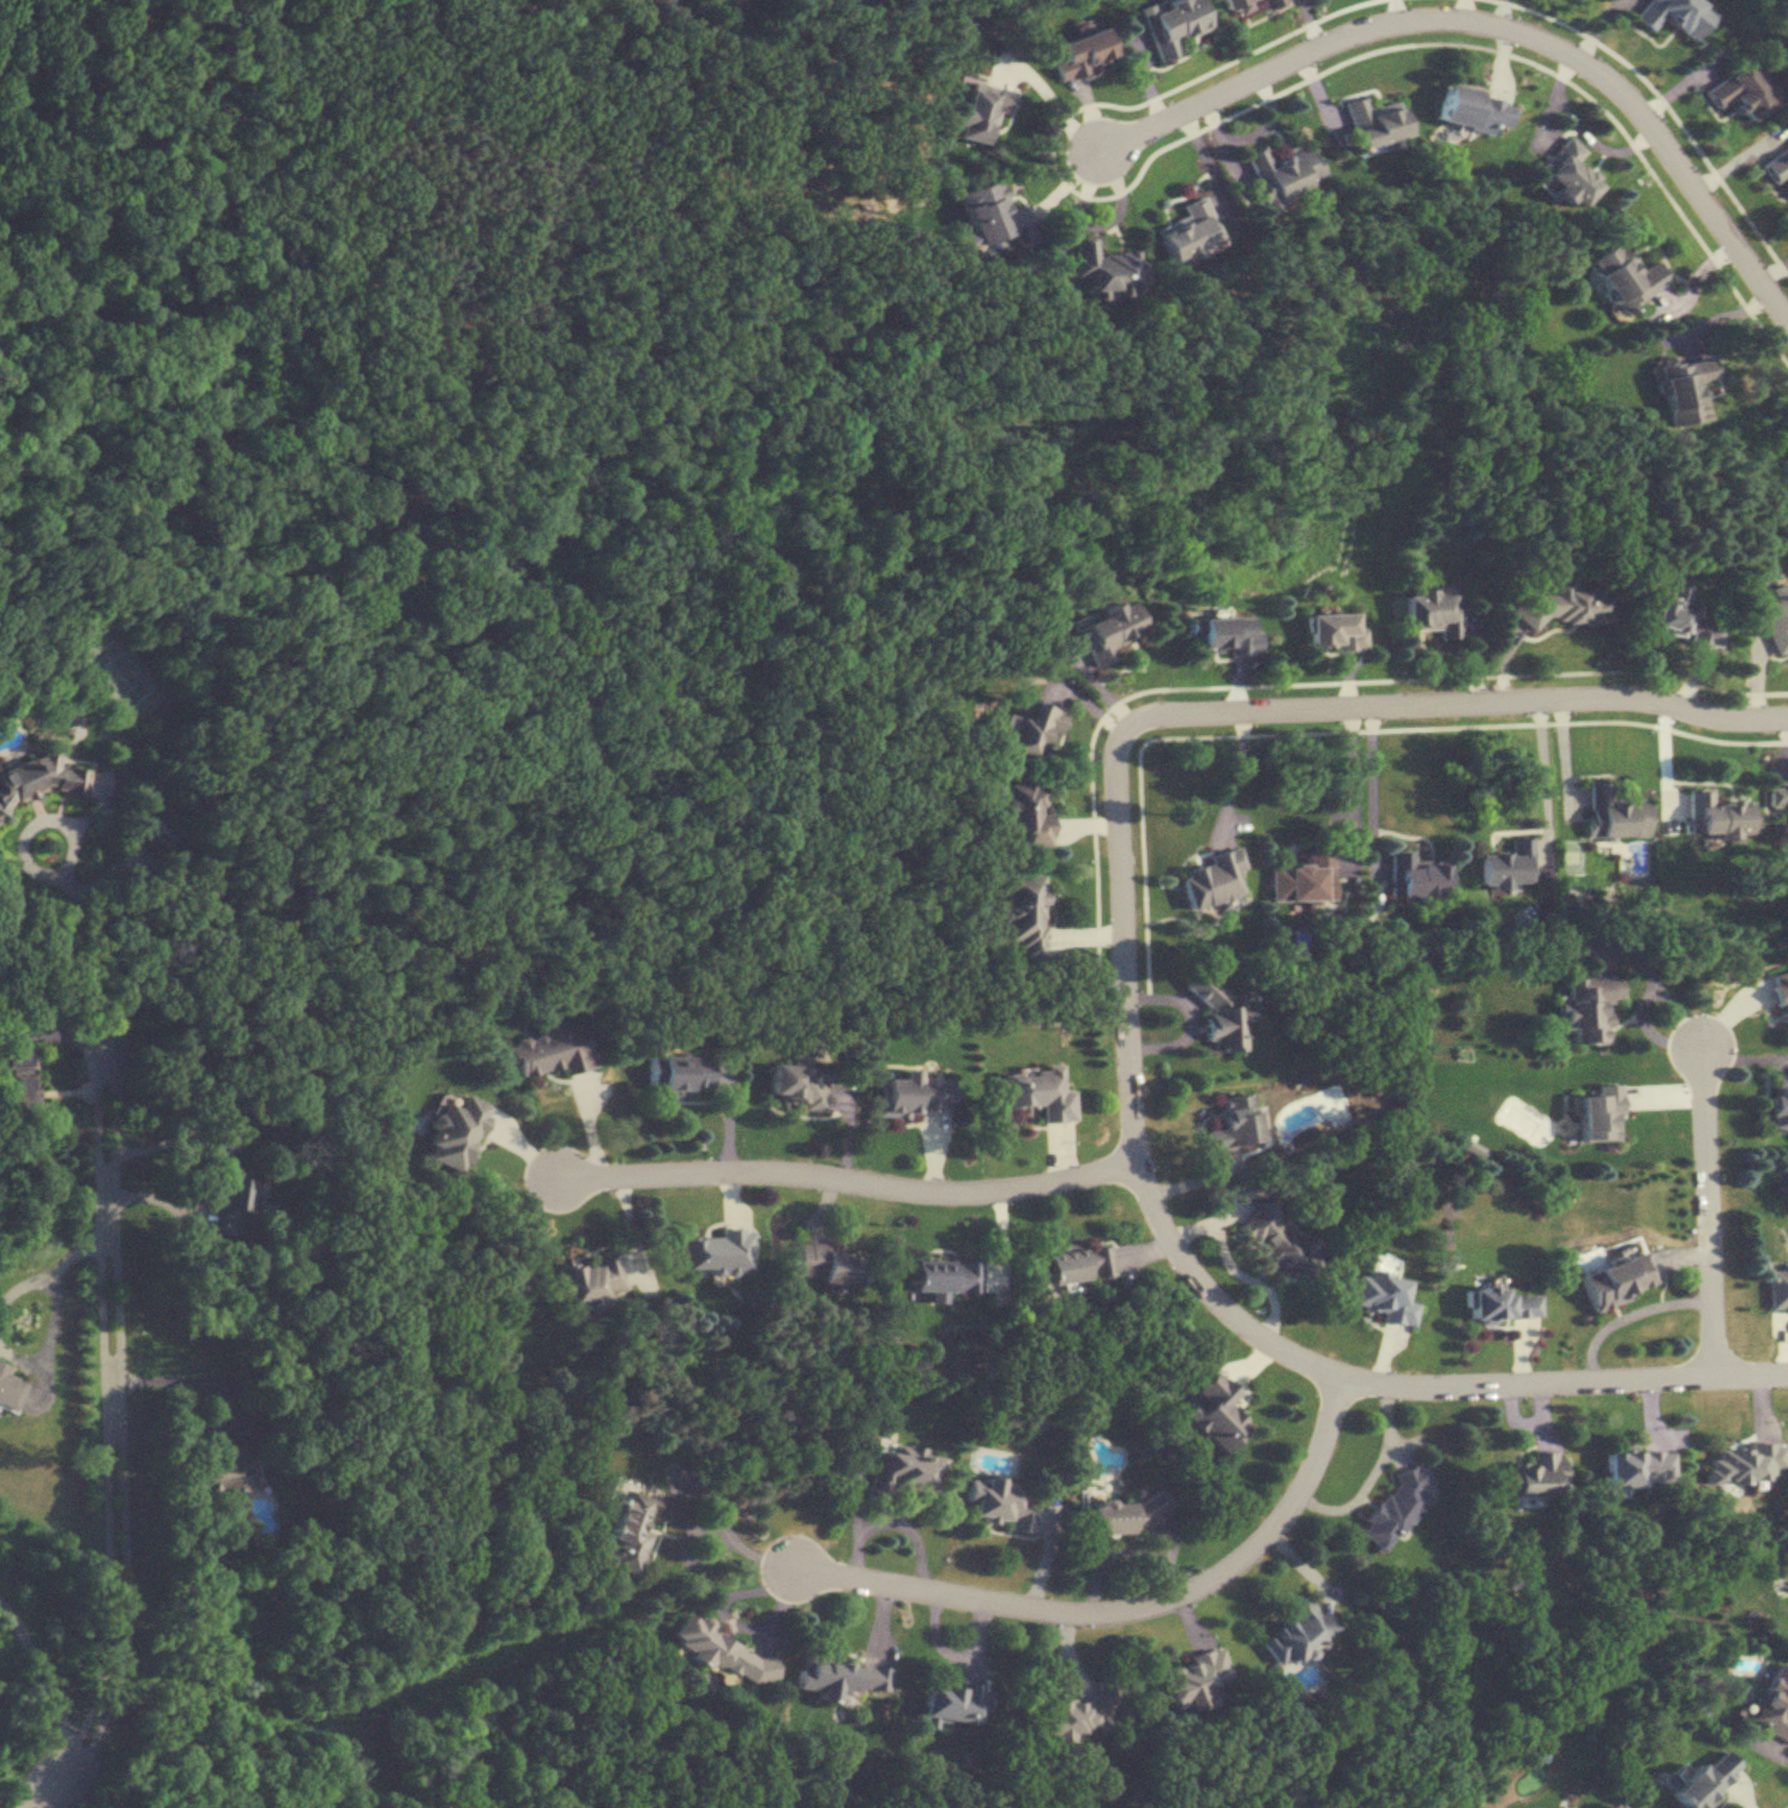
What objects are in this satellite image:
building: (1271, 4)
building: (1233, 6)
building: (1673, 16)
road: (1494, 22)
building: (1168, 24)
building: (1077, 54)
building: (1734, 94)
road: (1052, 101)
building: (1471, 108)
building: (977, 110)
building: (1374, 121)
building: (1775, 165)
building: (1282, 171)
building: (1567, 171)
building: (991, 212)
building: (1191, 230)
building: (1107, 269)
building: (1625, 276)
building: (1684, 388)
building: (1563, 605)
building: (1431, 611)
building: (1680, 617)
building: (1775, 617)
building: (1104, 631)
building: (1326, 631)
building: (1218, 634)
road: (1450, 704)
building: (1034, 727)
road: (1545, 775)
road: (1234, 777)
building: (40, 779)
road: (1349, 784)
road: (1367, 784)
building: (1780, 800)
building: (1025, 812)
building: (1617, 813)
building: (1716, 814)
building: (1506, 863)
building: (1414, 876)
building: (1302, 878)
building: (1214, 879)
building: (1023, 912)
road: (79, 944)
building: (1781, 994)
building: (1588, 1007)
building: (1218, 1012)
building: (549, 1050)
road: (101, 1057)
road: (106, 1067)
building: (679, 1073)
building: (19, 1075)
building: (799, 1084)
building: (1040, 1092)
building: (916, 1093)
building: (1778, 1103)
building: (1234, 1122)
building: (456, 1131)
road: (101, 1174)
road: (211, 1176)
road: (849, 1179)
building: (235, 1205)
road: (1708, 1206)
road: (112, 1234)
building: (1280, 1243)
road: (76, 1252)
building: (717, 1252)
building: (1076, 1264)
building: (826, 1265)
building: (943, 1277)
building: (1617, 1280)
building: (586, 1282)
road: (24, 1285)
building: (1777, 1289)
building: (1384, 1295)
building: (1500, 1303)
road: (1220, 1304)
road: (1630, 1315)
road: (49, 1339)
building: (8, 1391)
building: (1217, 1414)
road: (124, 1438)
building: (1744, 1464)
building: (227, 1469)
building: (1638, 1469)
building: (899, 1471)
building: (1529, 1477)
road: (109, 1495)
building: (999, 1505)
building: (1396, 1507)
building: (1127, 1515)
road: (895, 1521)
building: (639, 1525)
road: (726, 1535)
road: (1124, 1604)
building: (1294, 1635)
building: (722, 1651)
road: (38, 1668)
building: (842, 1679)
building: (1193, 1679)
building: (953, 1704)
building: (1772, 1705)
building: (1078, 1713)
road: (71, 1756)
road: (65, 1771)
building: (1703, 1782)
road: (43, 1795)
building: (1611, 1806)

